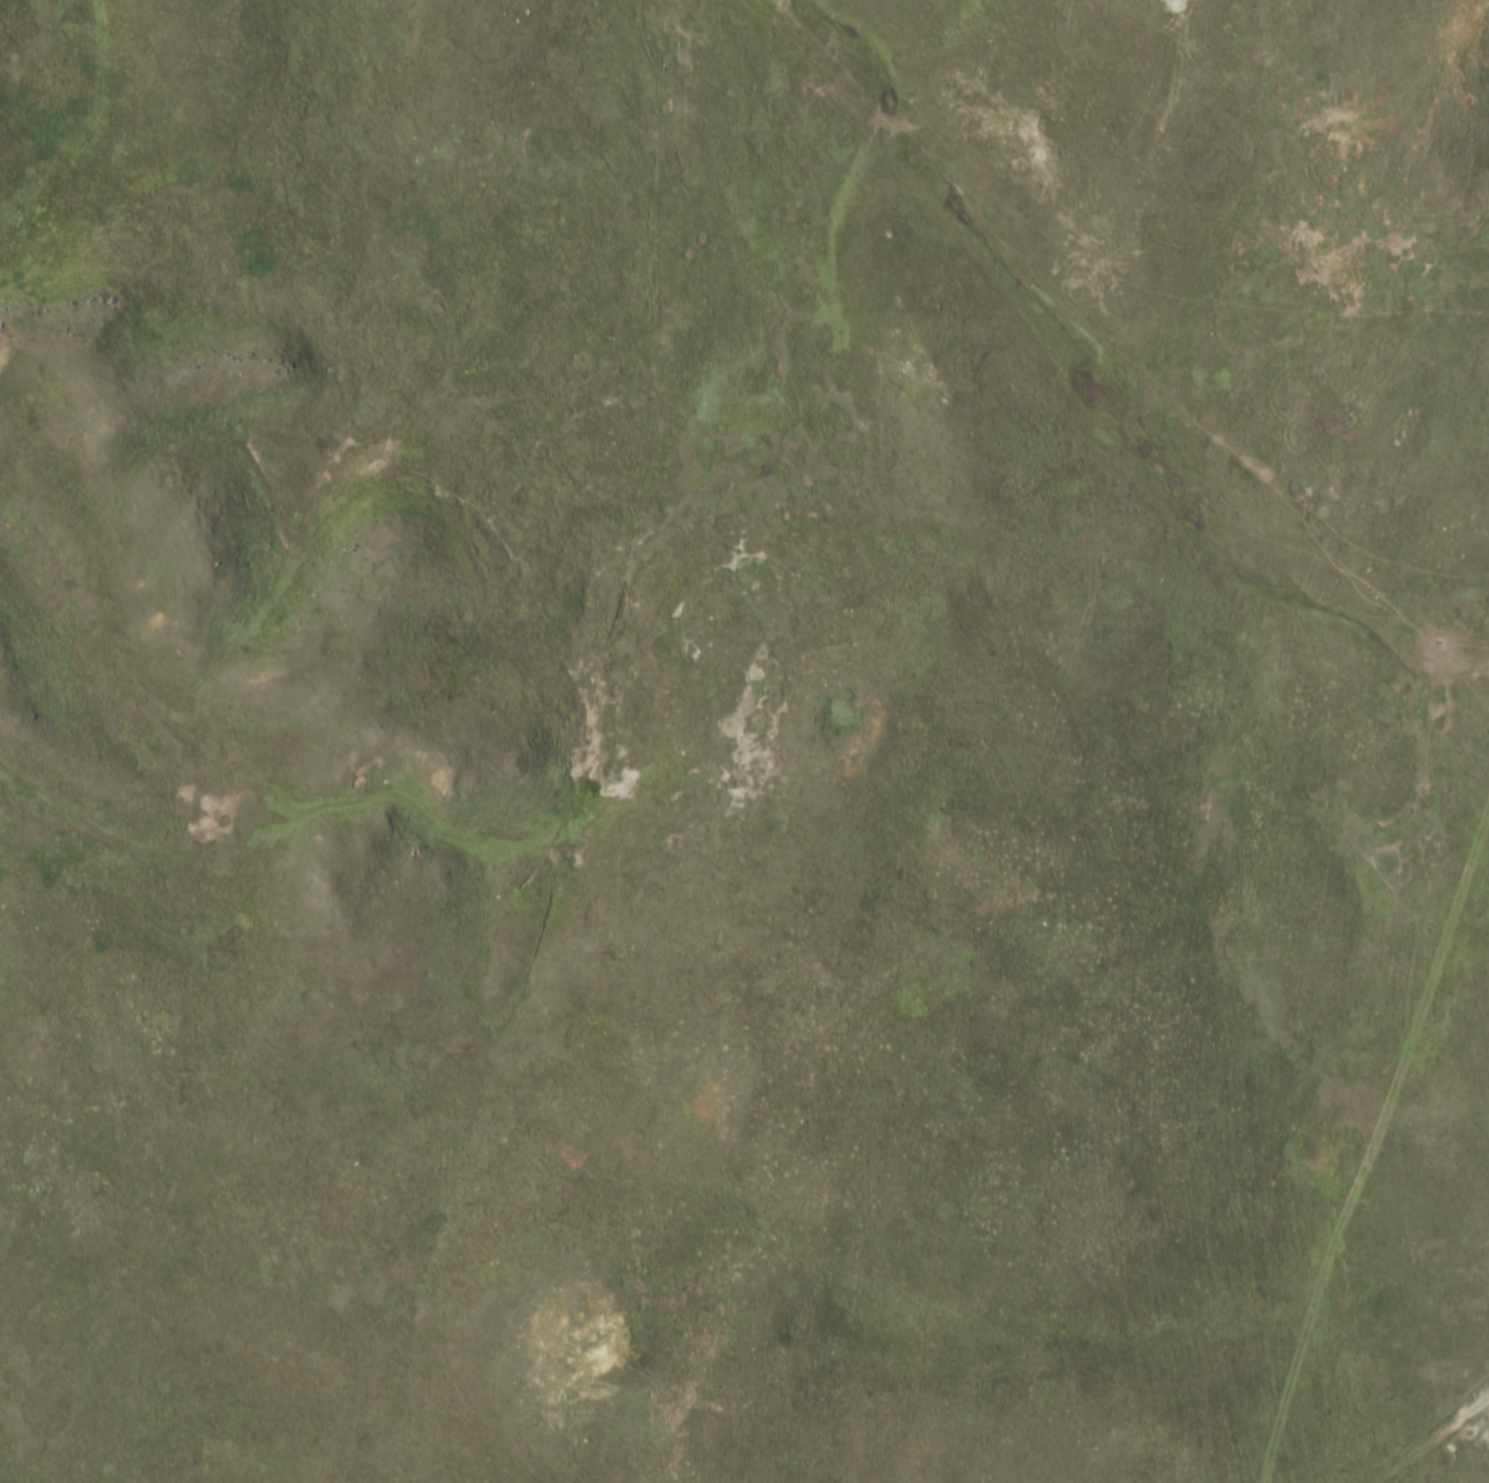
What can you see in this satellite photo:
road: (1434, 1439)

